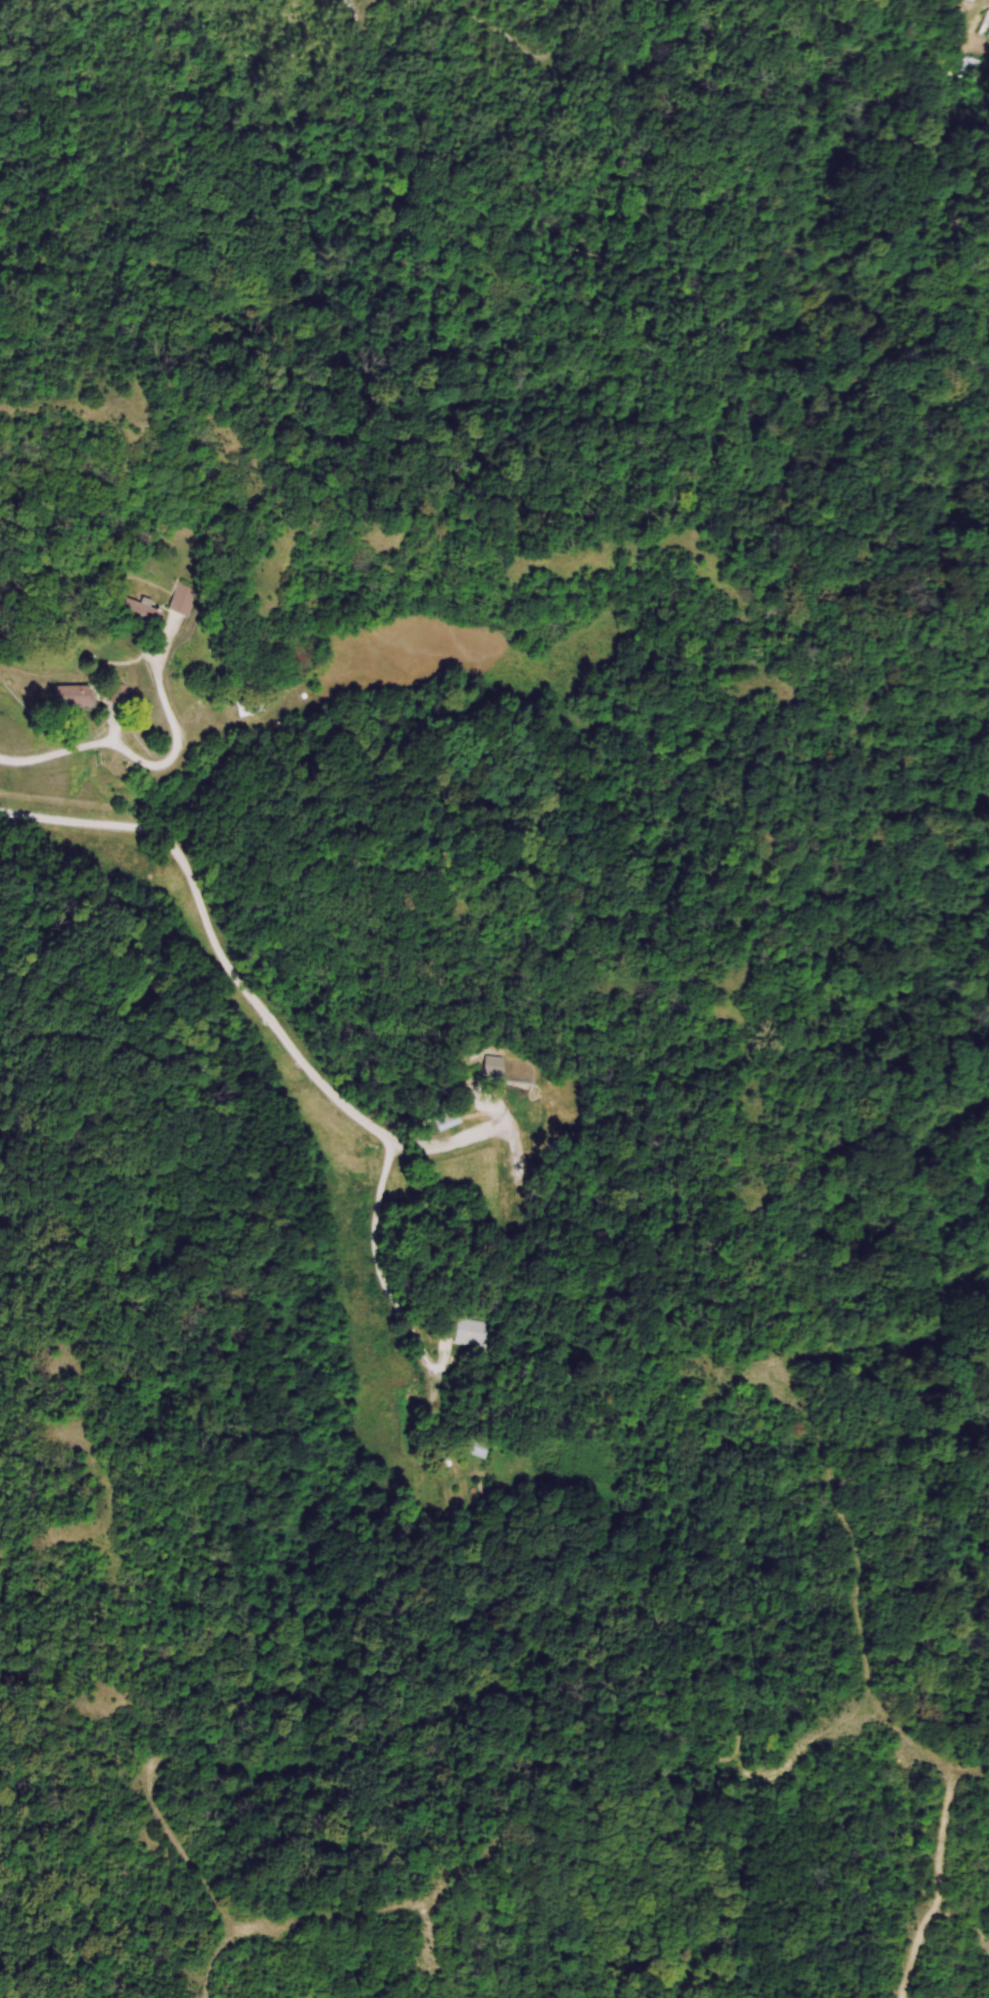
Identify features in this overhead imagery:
building: (968, 0)
building: (252, 704)
road: (156, 768)
road: (250, 979)
road: (404, 1316)

